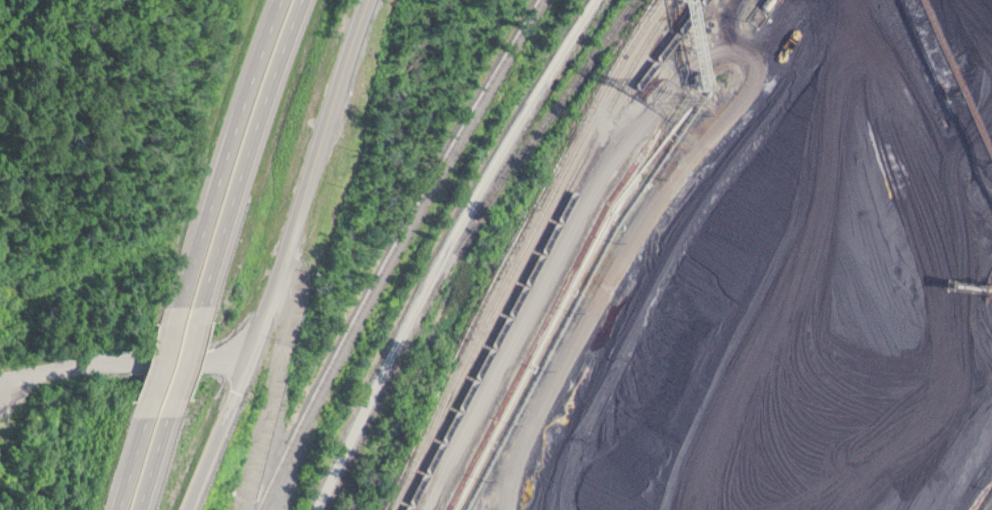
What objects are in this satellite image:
road: (718, 47)
power tower: (677, 97)
railway: (552, 108)
road: (226, 151)
road: (250, 152)
railway: (580, 160)
road: (312, 178)
railway: (543, 249)
railway: (389, 252)
railway: (454, 253)
railway: (519, 253)
power plant: (717, 260)
road: (125, 360)
road: (166, 360)
road: (192, 360)
road: (279, 387)
railway: (454, 394)
road: (222, 433)
road: (135, 462)
road: (161, 462)

